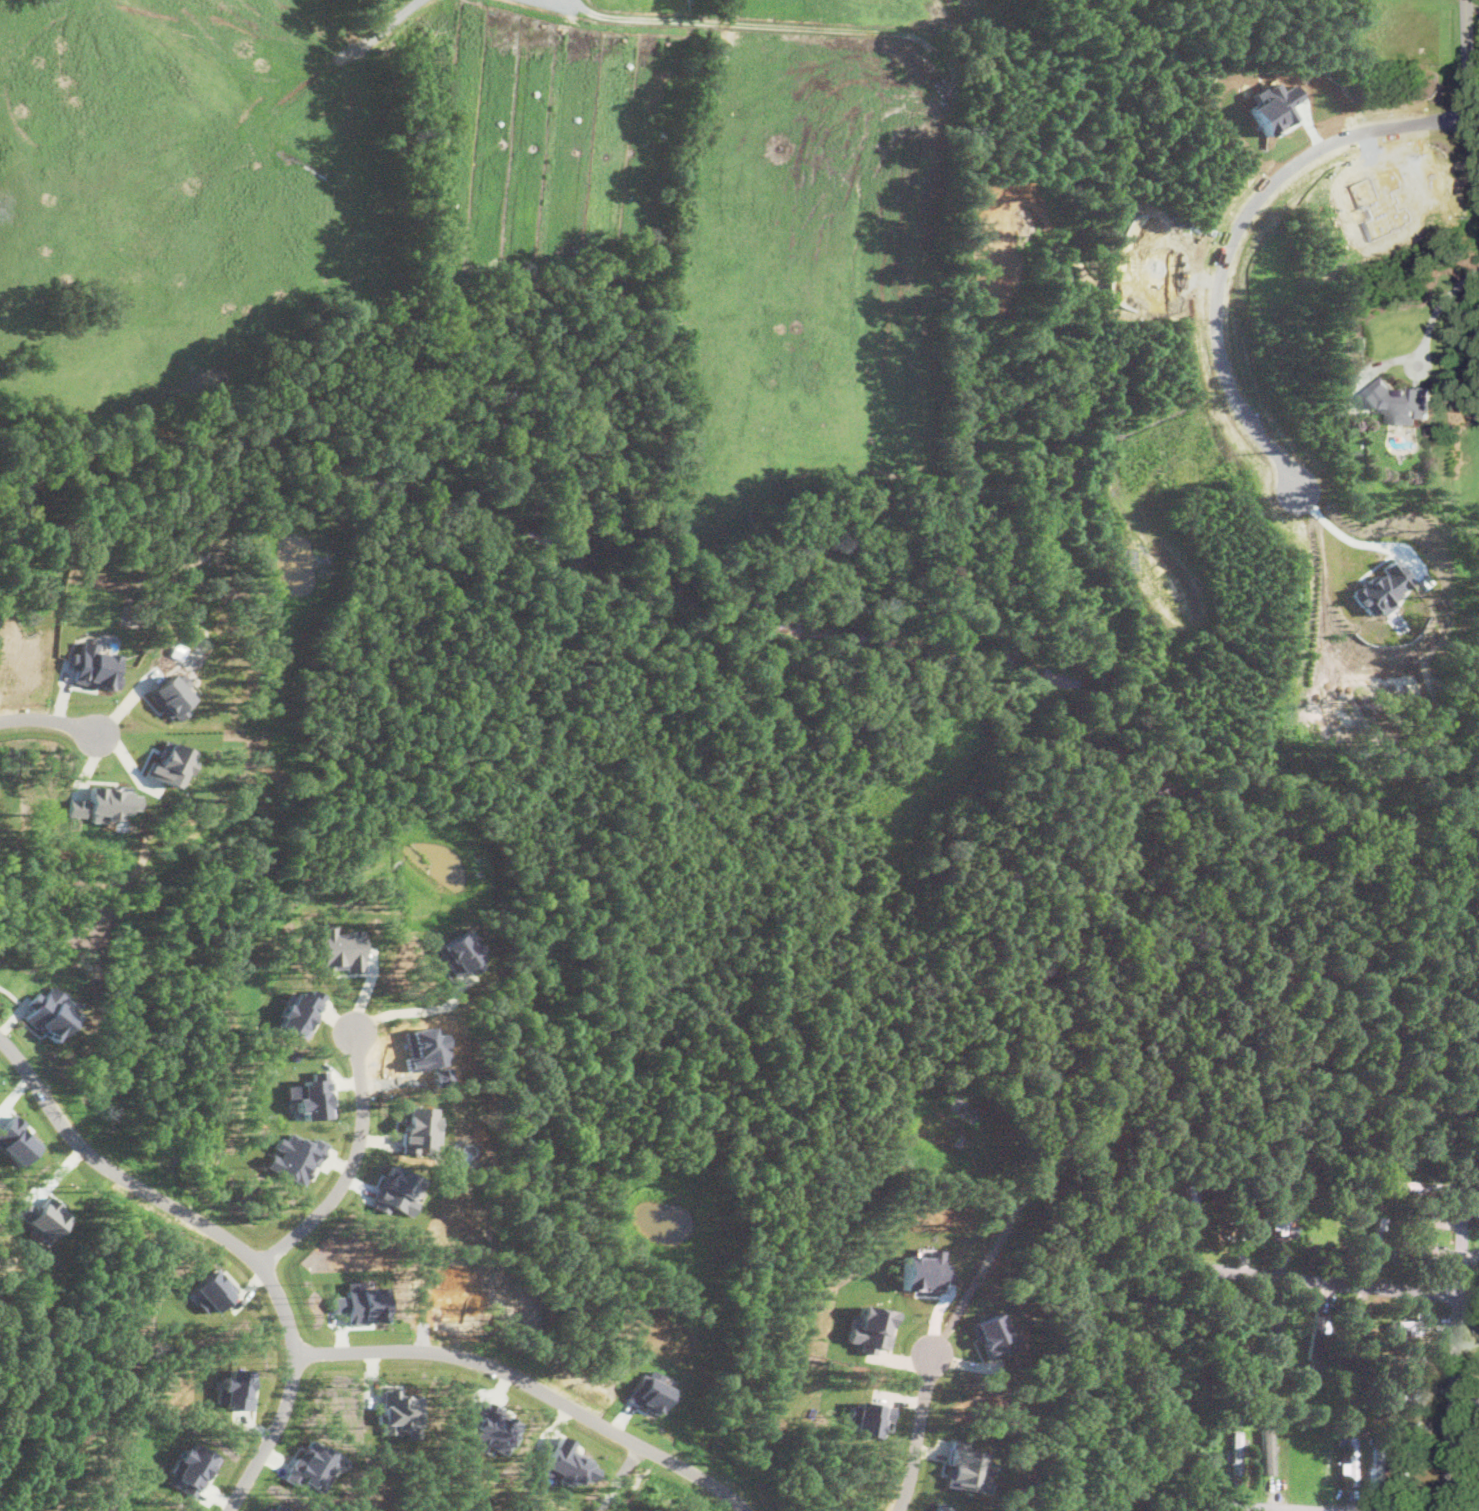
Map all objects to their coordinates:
road: (1469, 78)
road: (1234, 235)
crop: (552, 253)
road: (1437, 308)
building: (1400, 400)
road: (1351, 538)
building: (1380, 587)
building: (94, 664)
building: (172, 694)
road: (45, 718)
building: (169, 762)
building: (108, 802)
building: (76, 806)
building: (340, 948)
building: (460, 952)
building: (299, 1010)
road: (415, 1010)
building: (50, 1012)
building: (311, 1094)
building: (416, 1126)
building: (15, 1138)
building: (294, 1156)
road: (352, 1160)
building: (1415, 1184)
building: (398, 1189)
building: (1192, 1204)
building: (1476, 1209)
building: (1284, 1215)
building: (43, 1217)
road: (229, 1239)
building: (1422, 1251)
building: (923, 1268)
road: (1325, 1280)
building: (211, 1290)
building: (360, 1300)
building: (1411, 1322)
building: (869, 1325)
building: (1477, 1326)
building: (994, 1335)
road: (1457, 1339)
road: (533, 1385)
building: (234, 1387)
building: (647, 1390)
building: (398, 1411)
building: (871, 1417)
building: (492, 1426)
road: (918, 1429)
building: (1267, 1450)
building: (1235, 1451)
building: (1351, 1460)
building: (315, 1462)
building: (566, 1462)
building: (192, 1467)
building: (969, 1467)
building: (1406, 1467)
building: (1375, 1468)
building: (277, 1506)
building: (939, 1506)
road: (1265, 1508)

